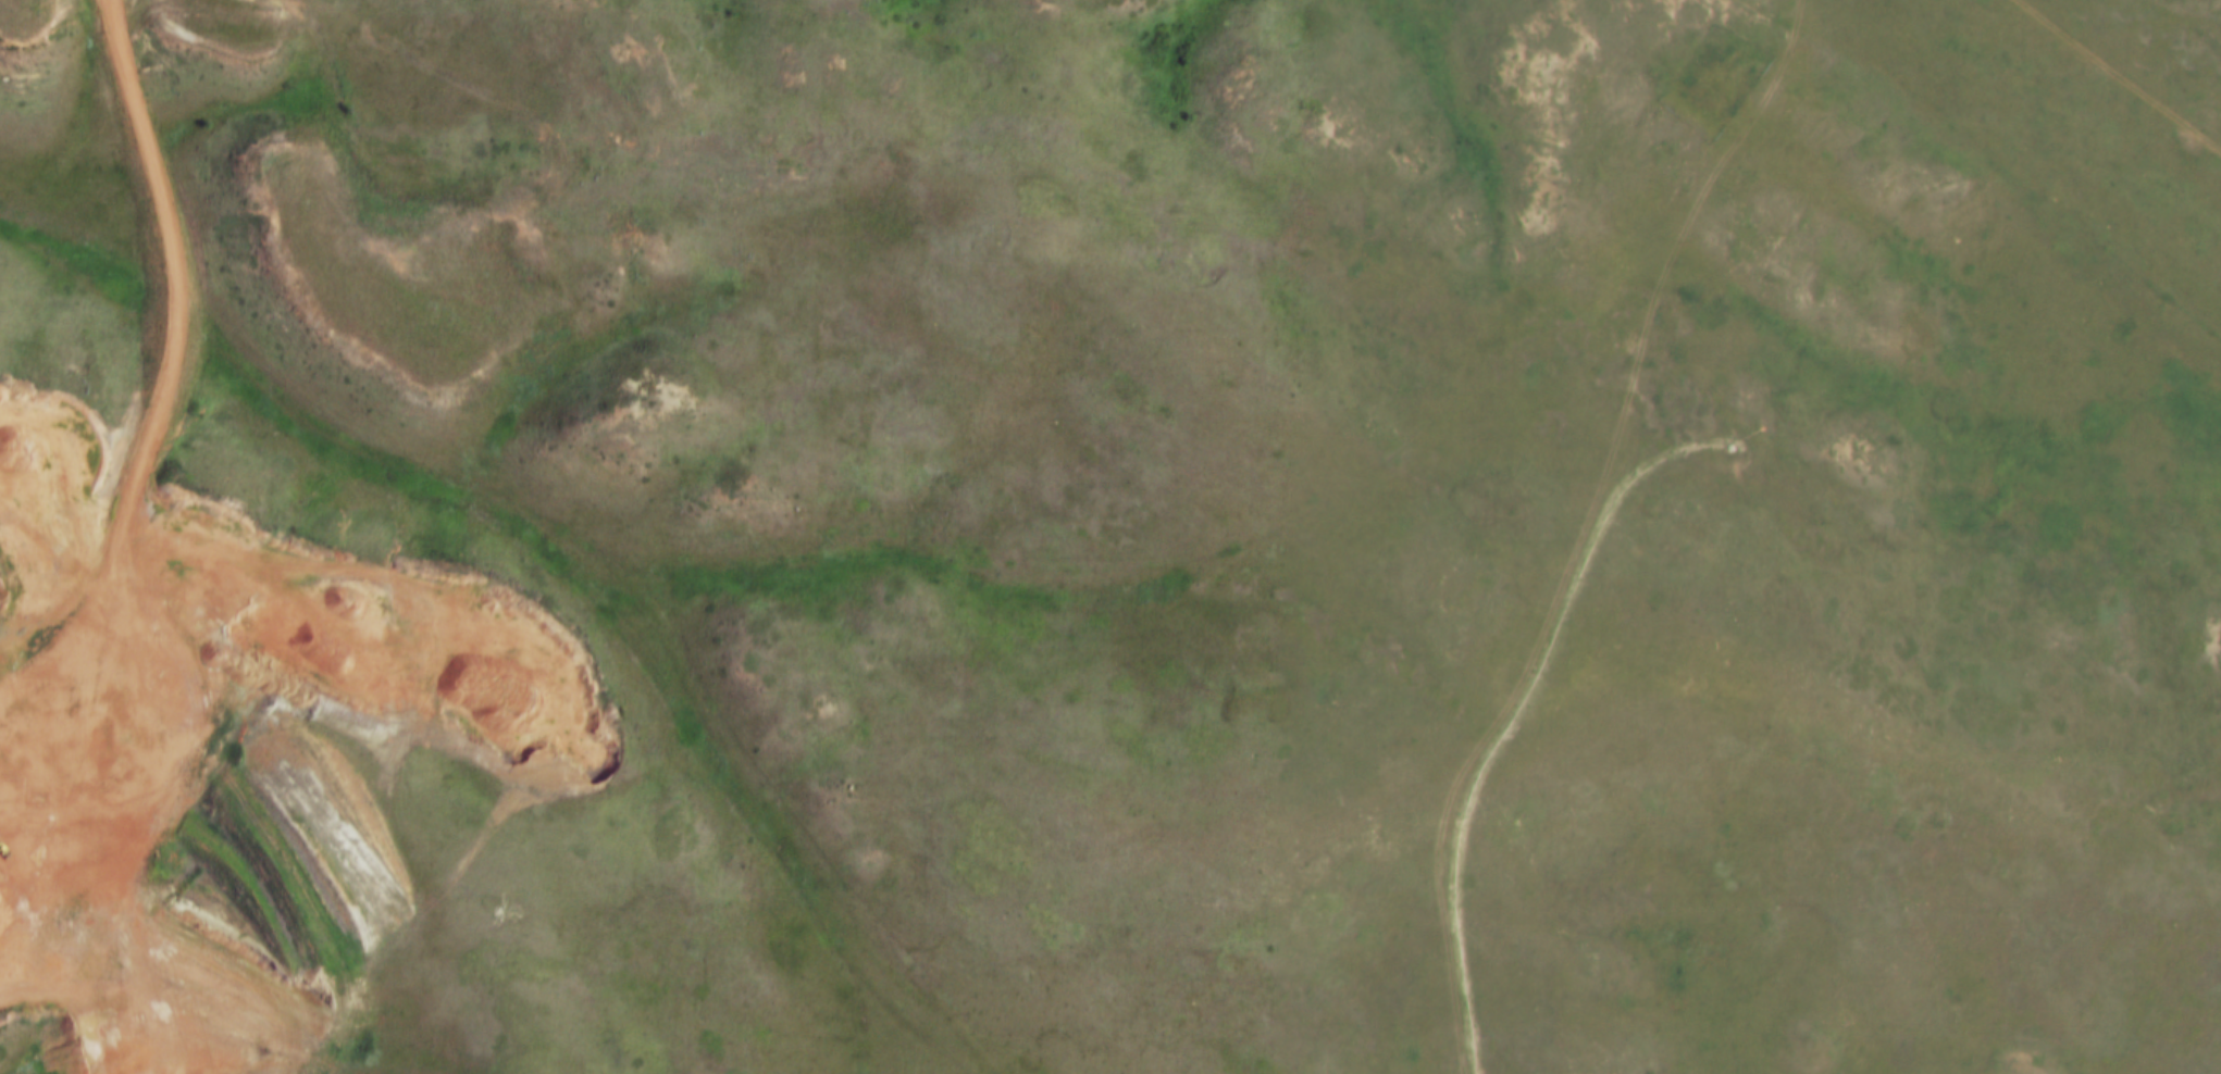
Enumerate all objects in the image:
road: (2121, 74)

